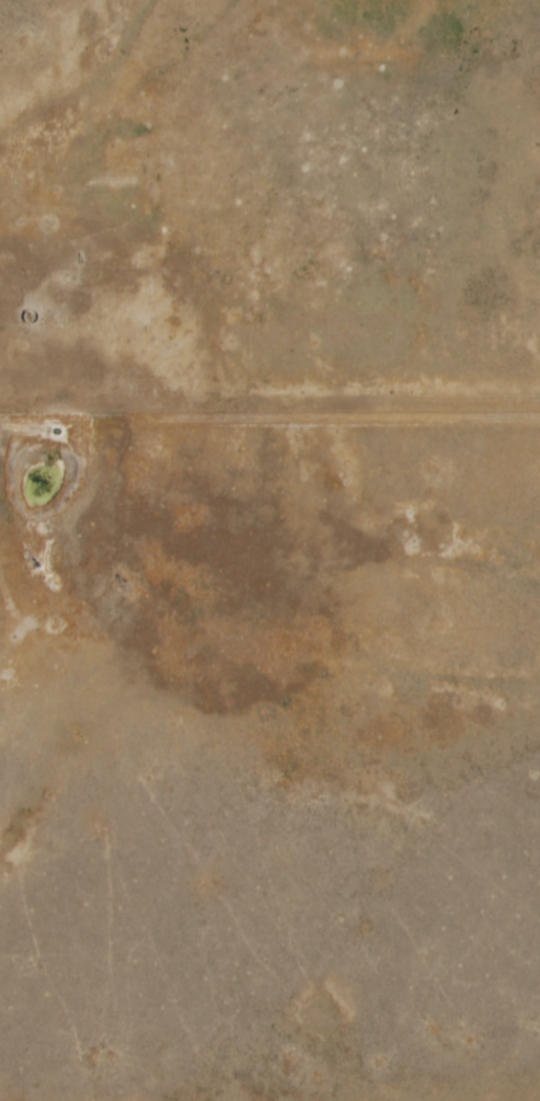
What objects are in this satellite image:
road: (44, 691)

